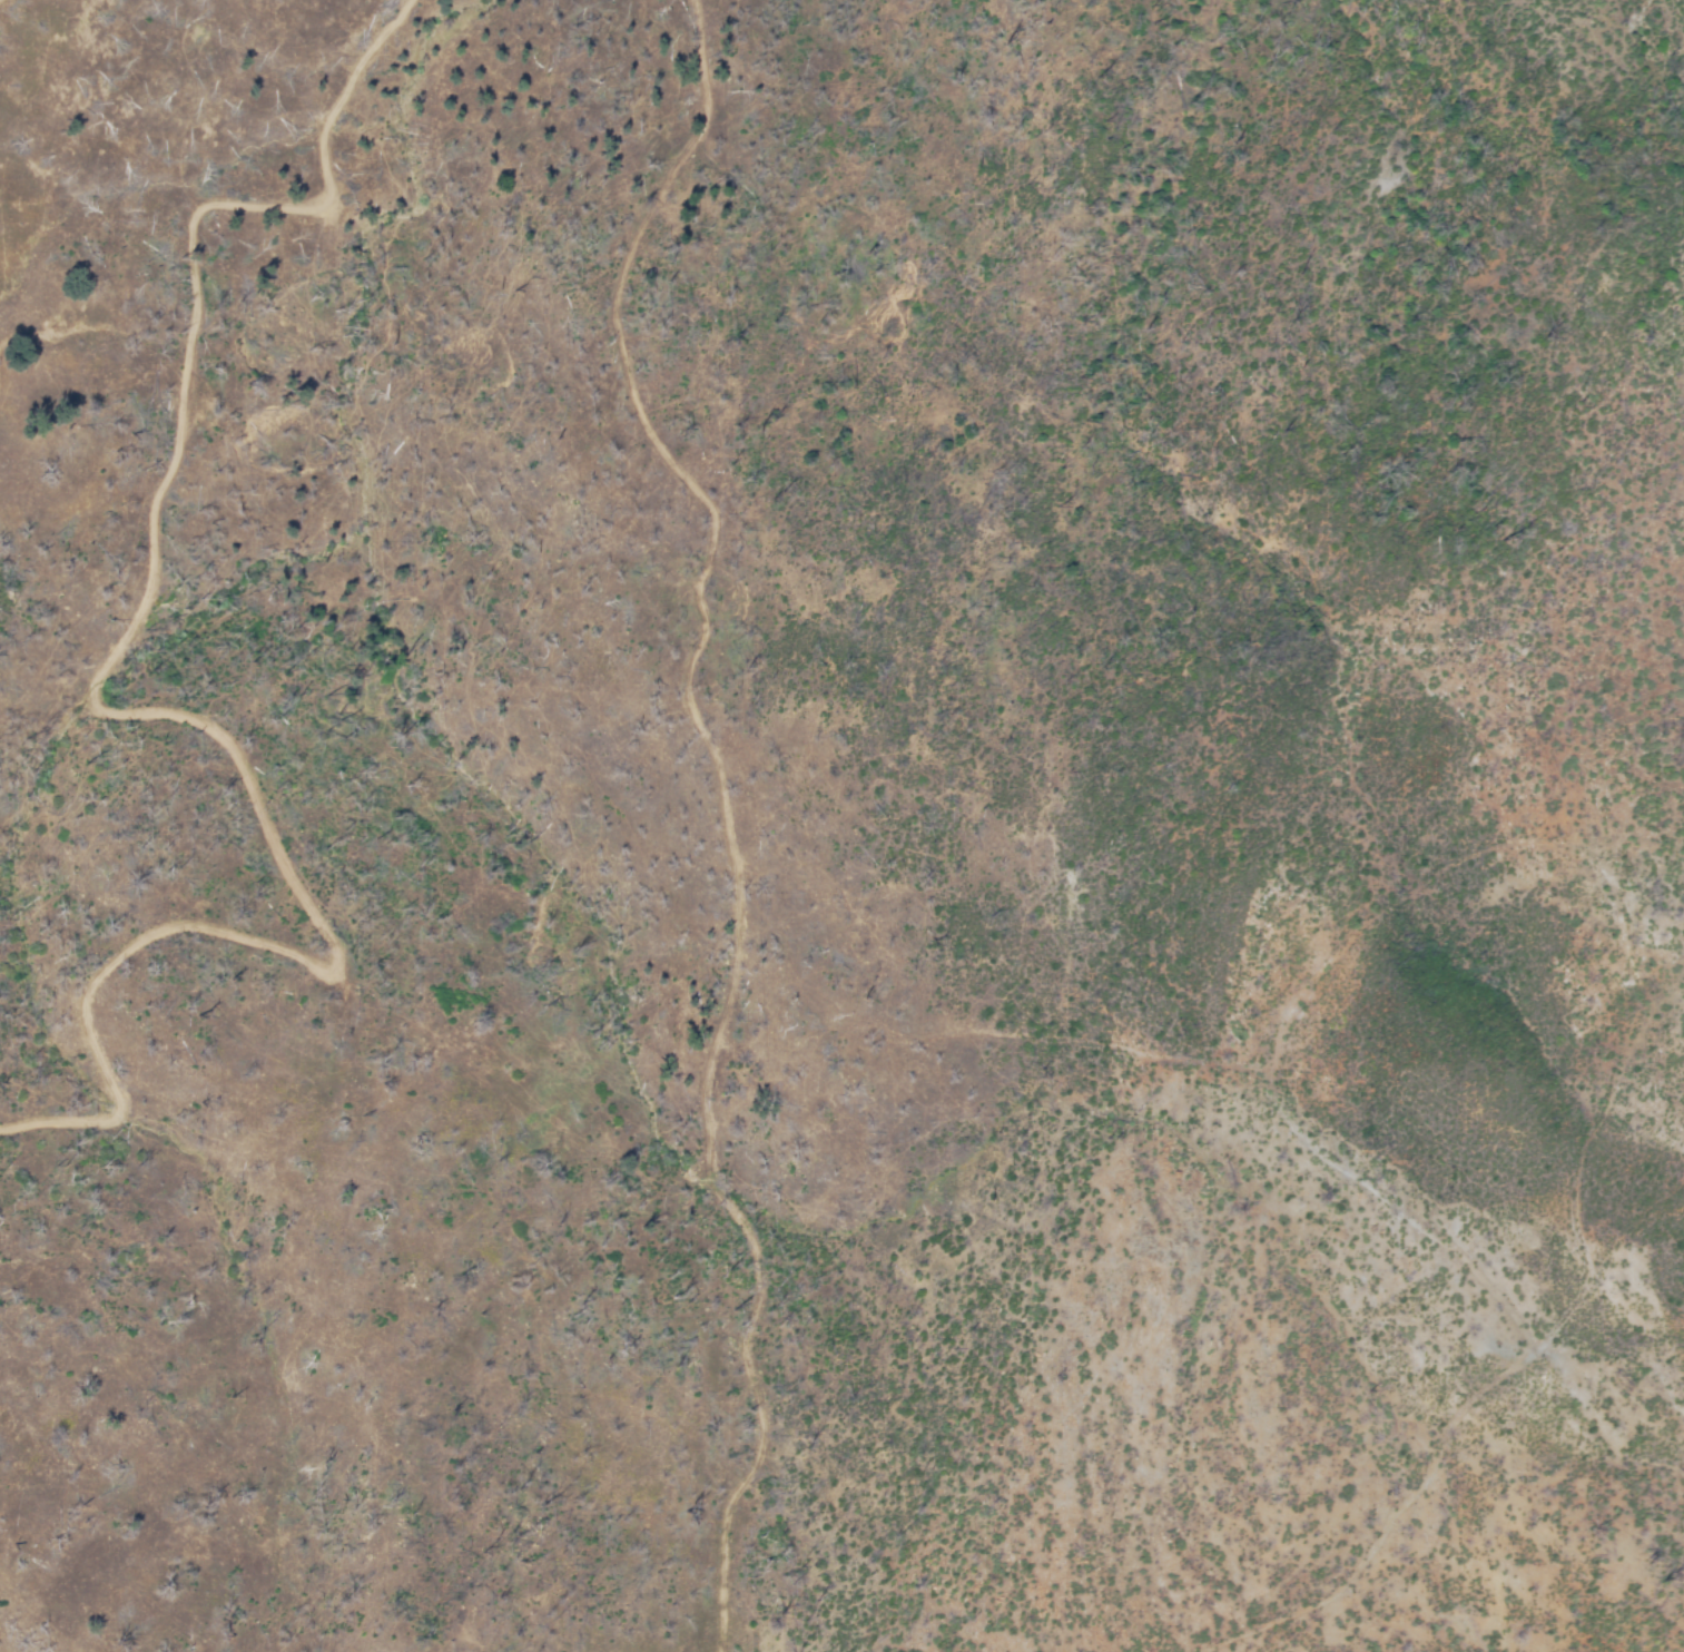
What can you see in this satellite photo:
road: (952, 137)
road: (602, 1147)

